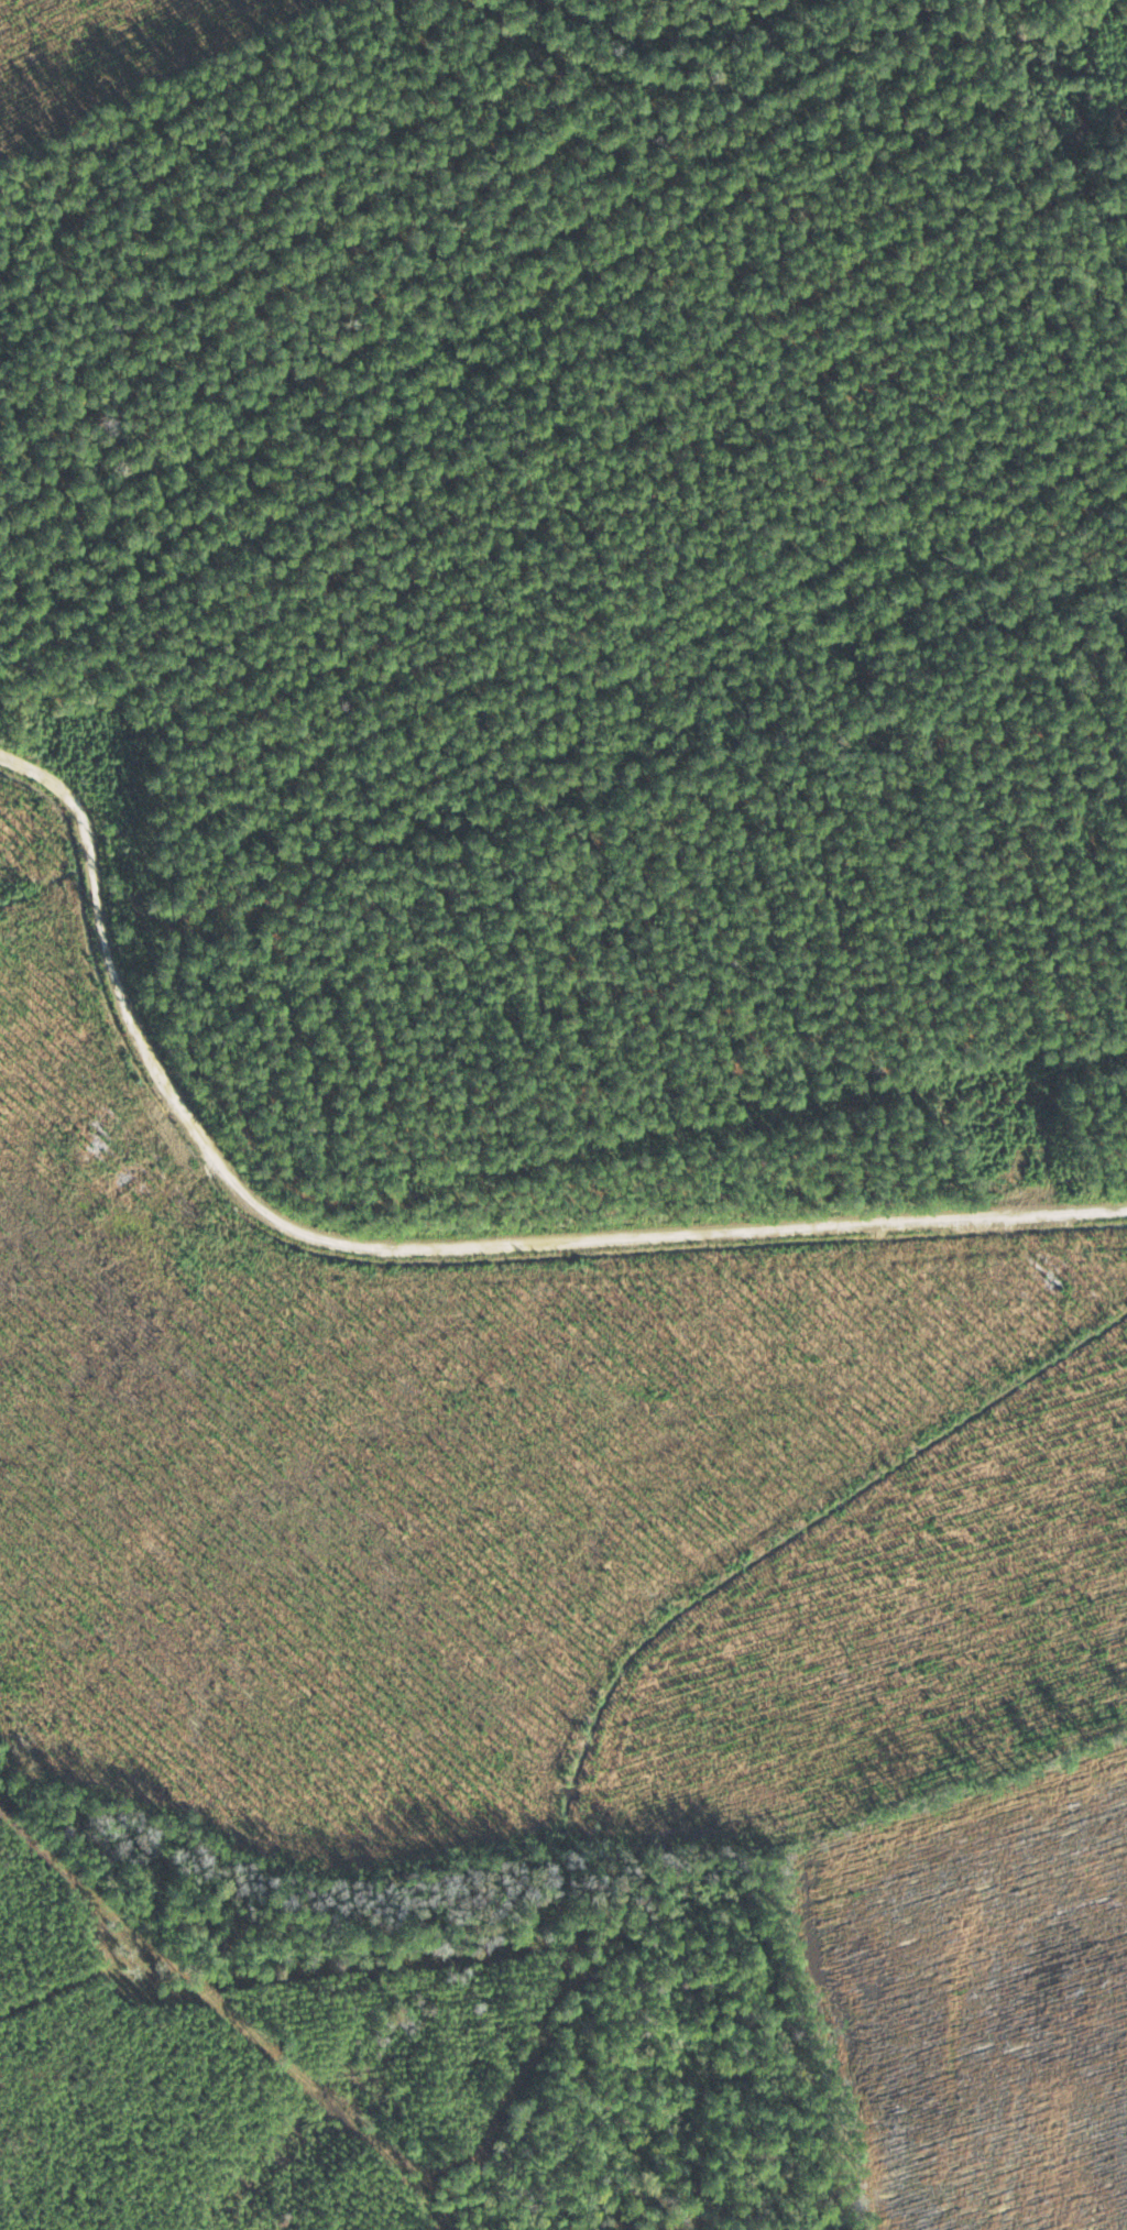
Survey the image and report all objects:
road: (524, 1176)

